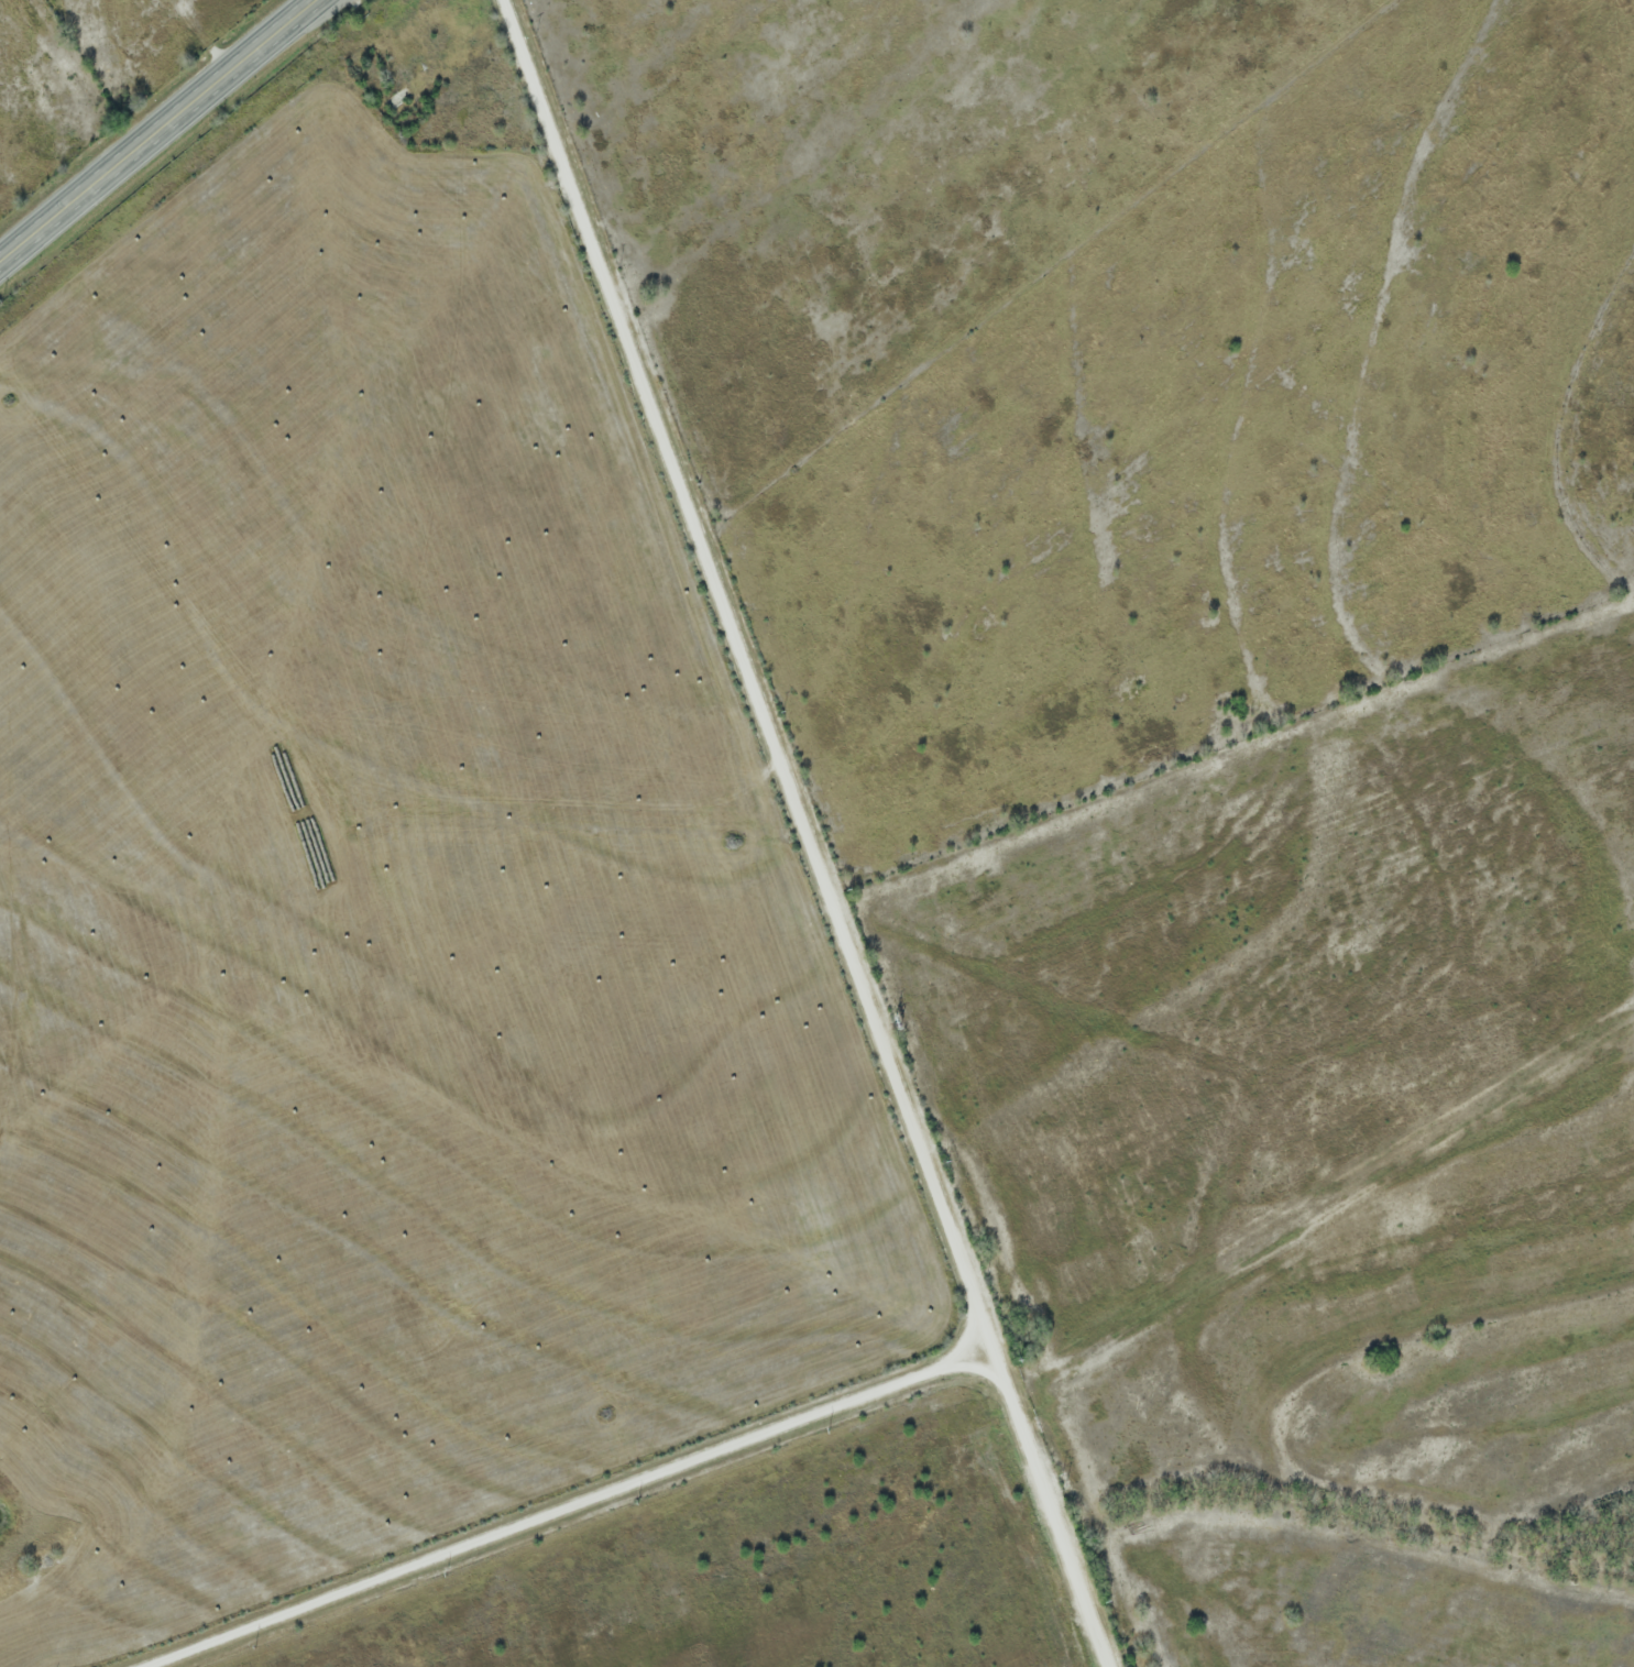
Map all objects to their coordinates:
road: (161, 133)
road: (812, 832)
road: (571, 1507)

